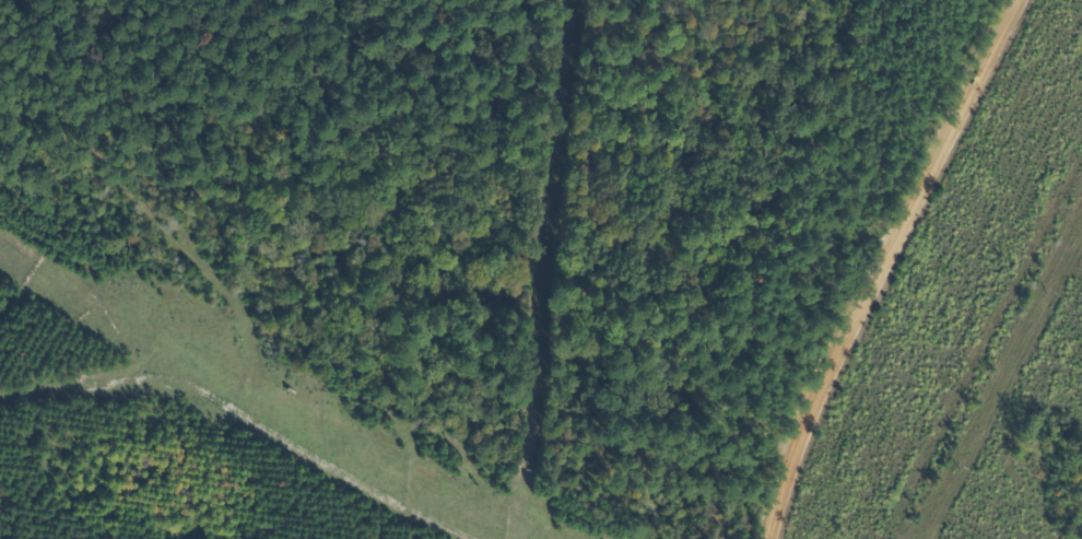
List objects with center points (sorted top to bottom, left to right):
road: (895, 265)

